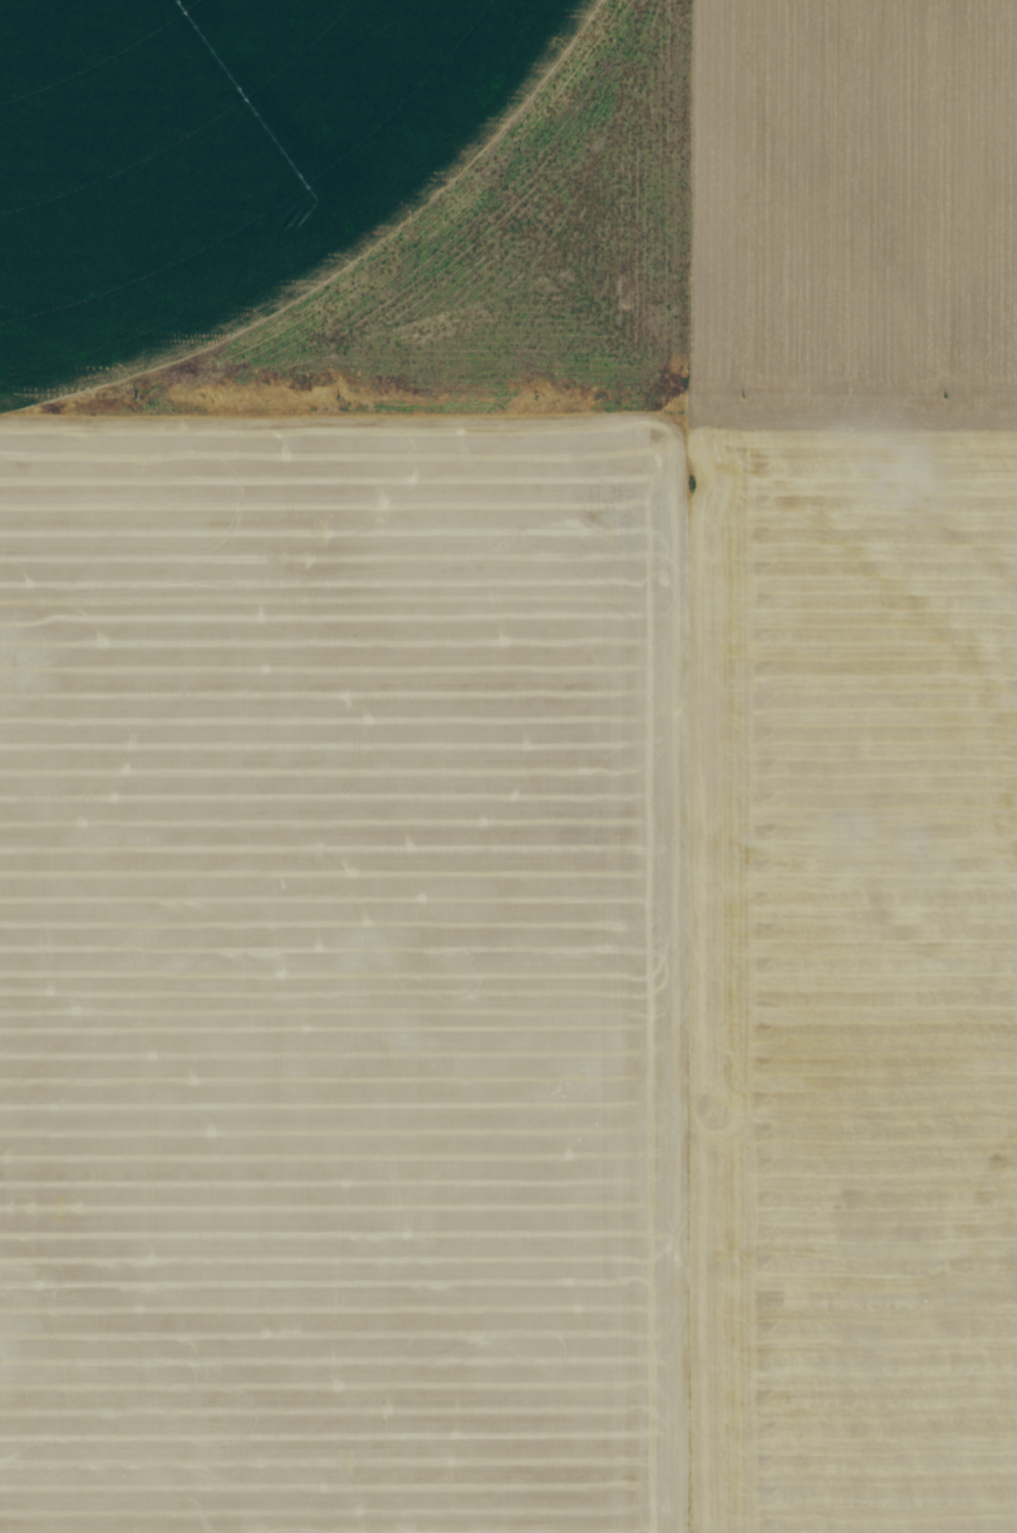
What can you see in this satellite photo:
crop: (508, 766)

